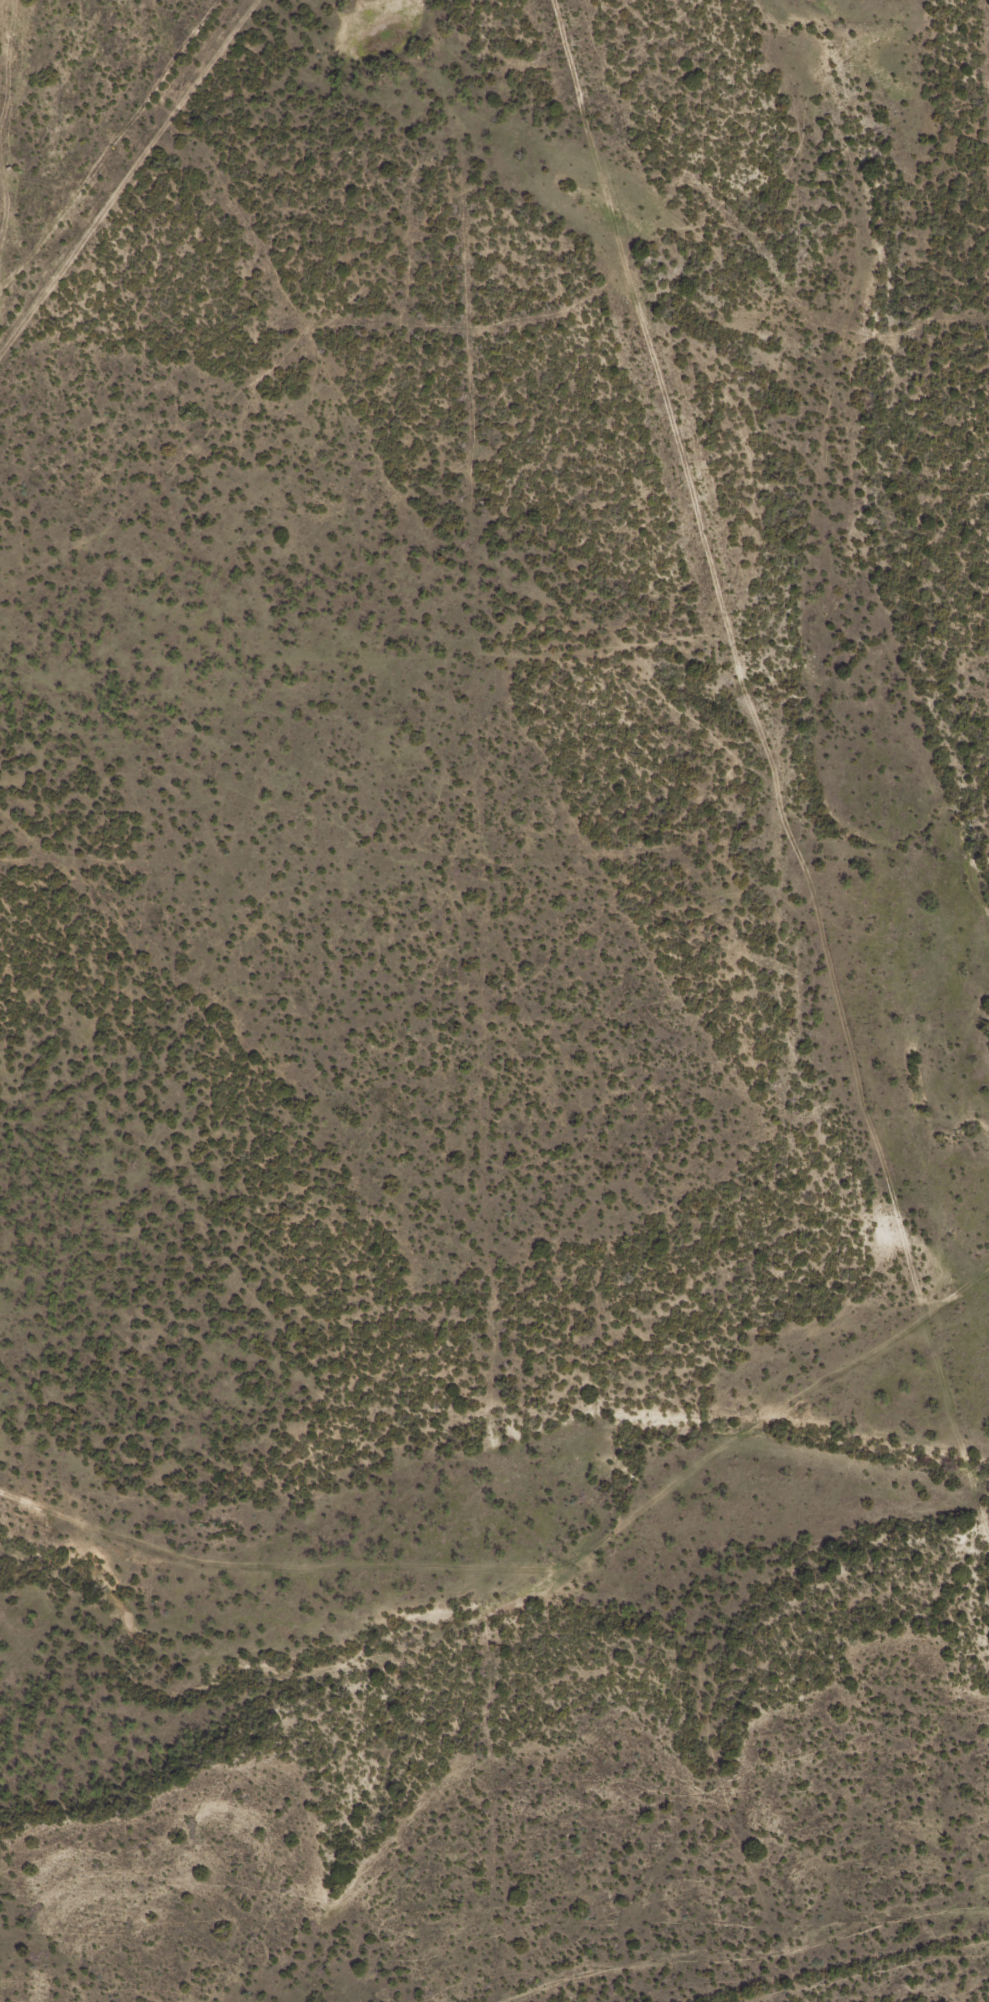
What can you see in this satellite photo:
road: (895, 50)
road: (359, 337)

